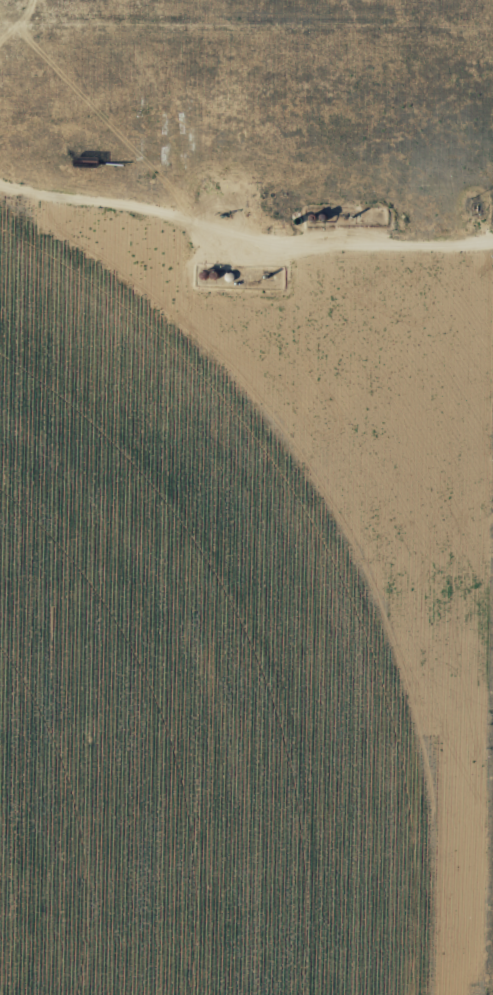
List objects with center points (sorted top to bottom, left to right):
road: (358, 123)

